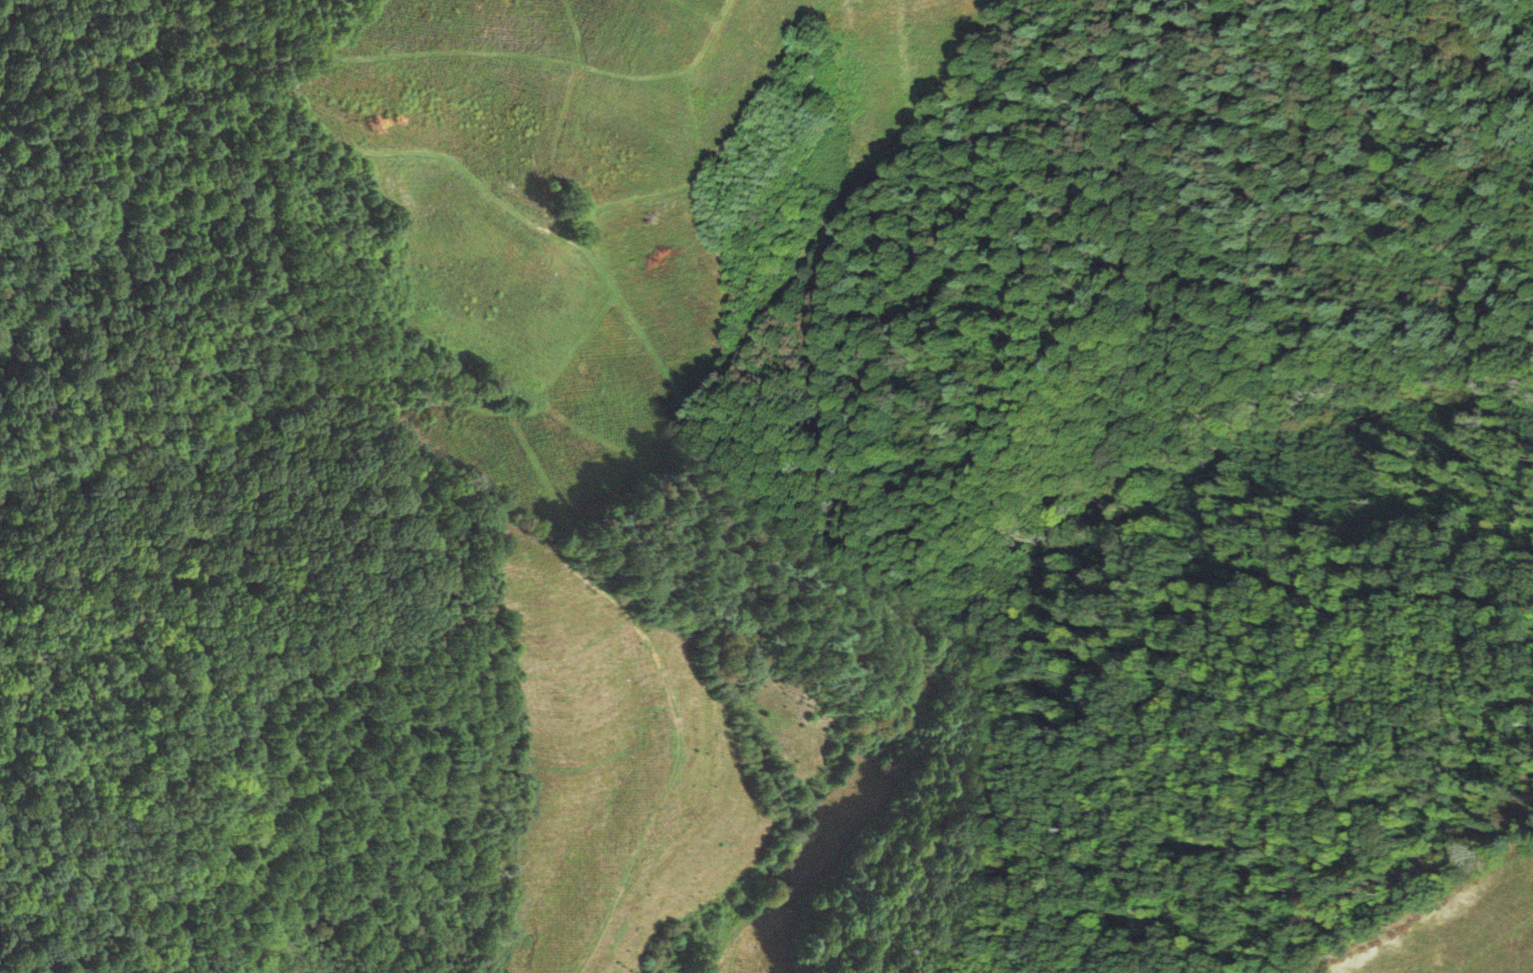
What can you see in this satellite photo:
road: (365, 153)

